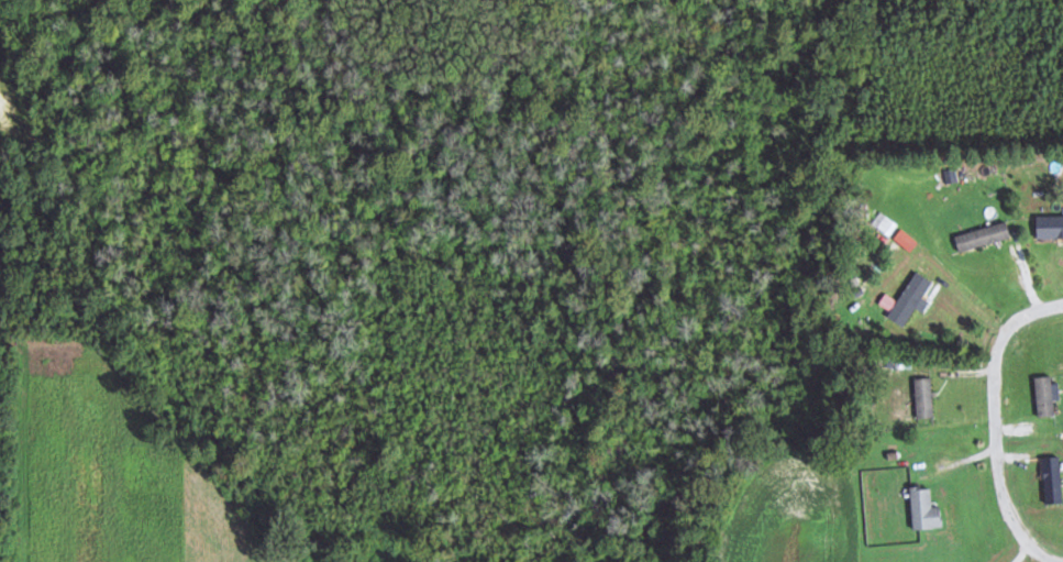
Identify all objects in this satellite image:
building: (888, 224)
building: (1049, 227)
building: (982, 236)
building: (909, 298)
building: (1043, 396)
building: (923, 397)
road: (992, 418)
building: (1052, 480)
building: (923, 509)

